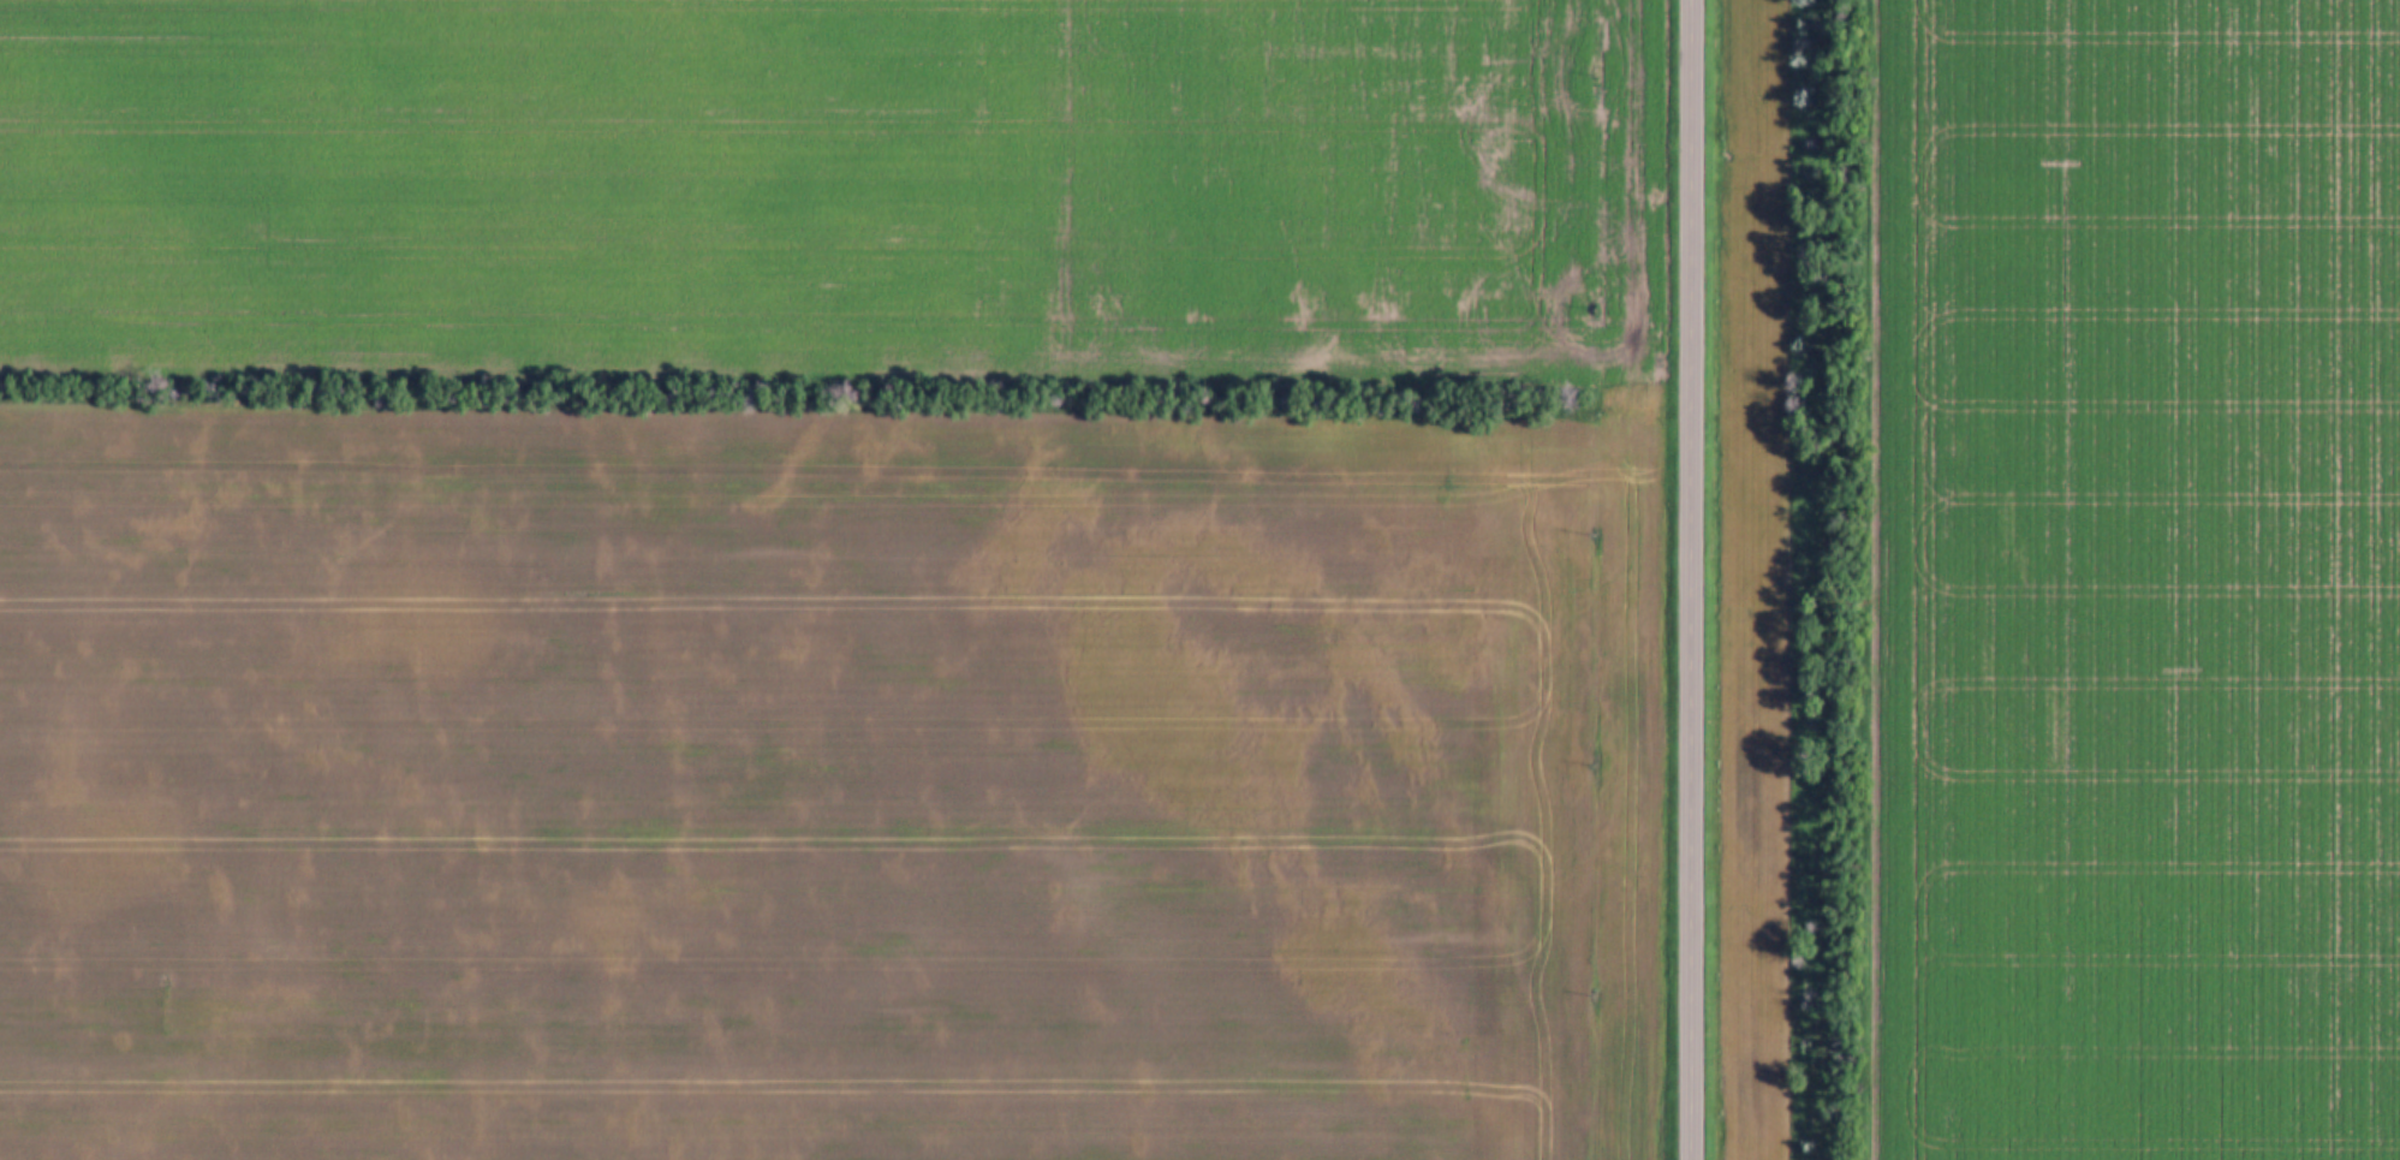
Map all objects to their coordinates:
road: (1690, 579)

